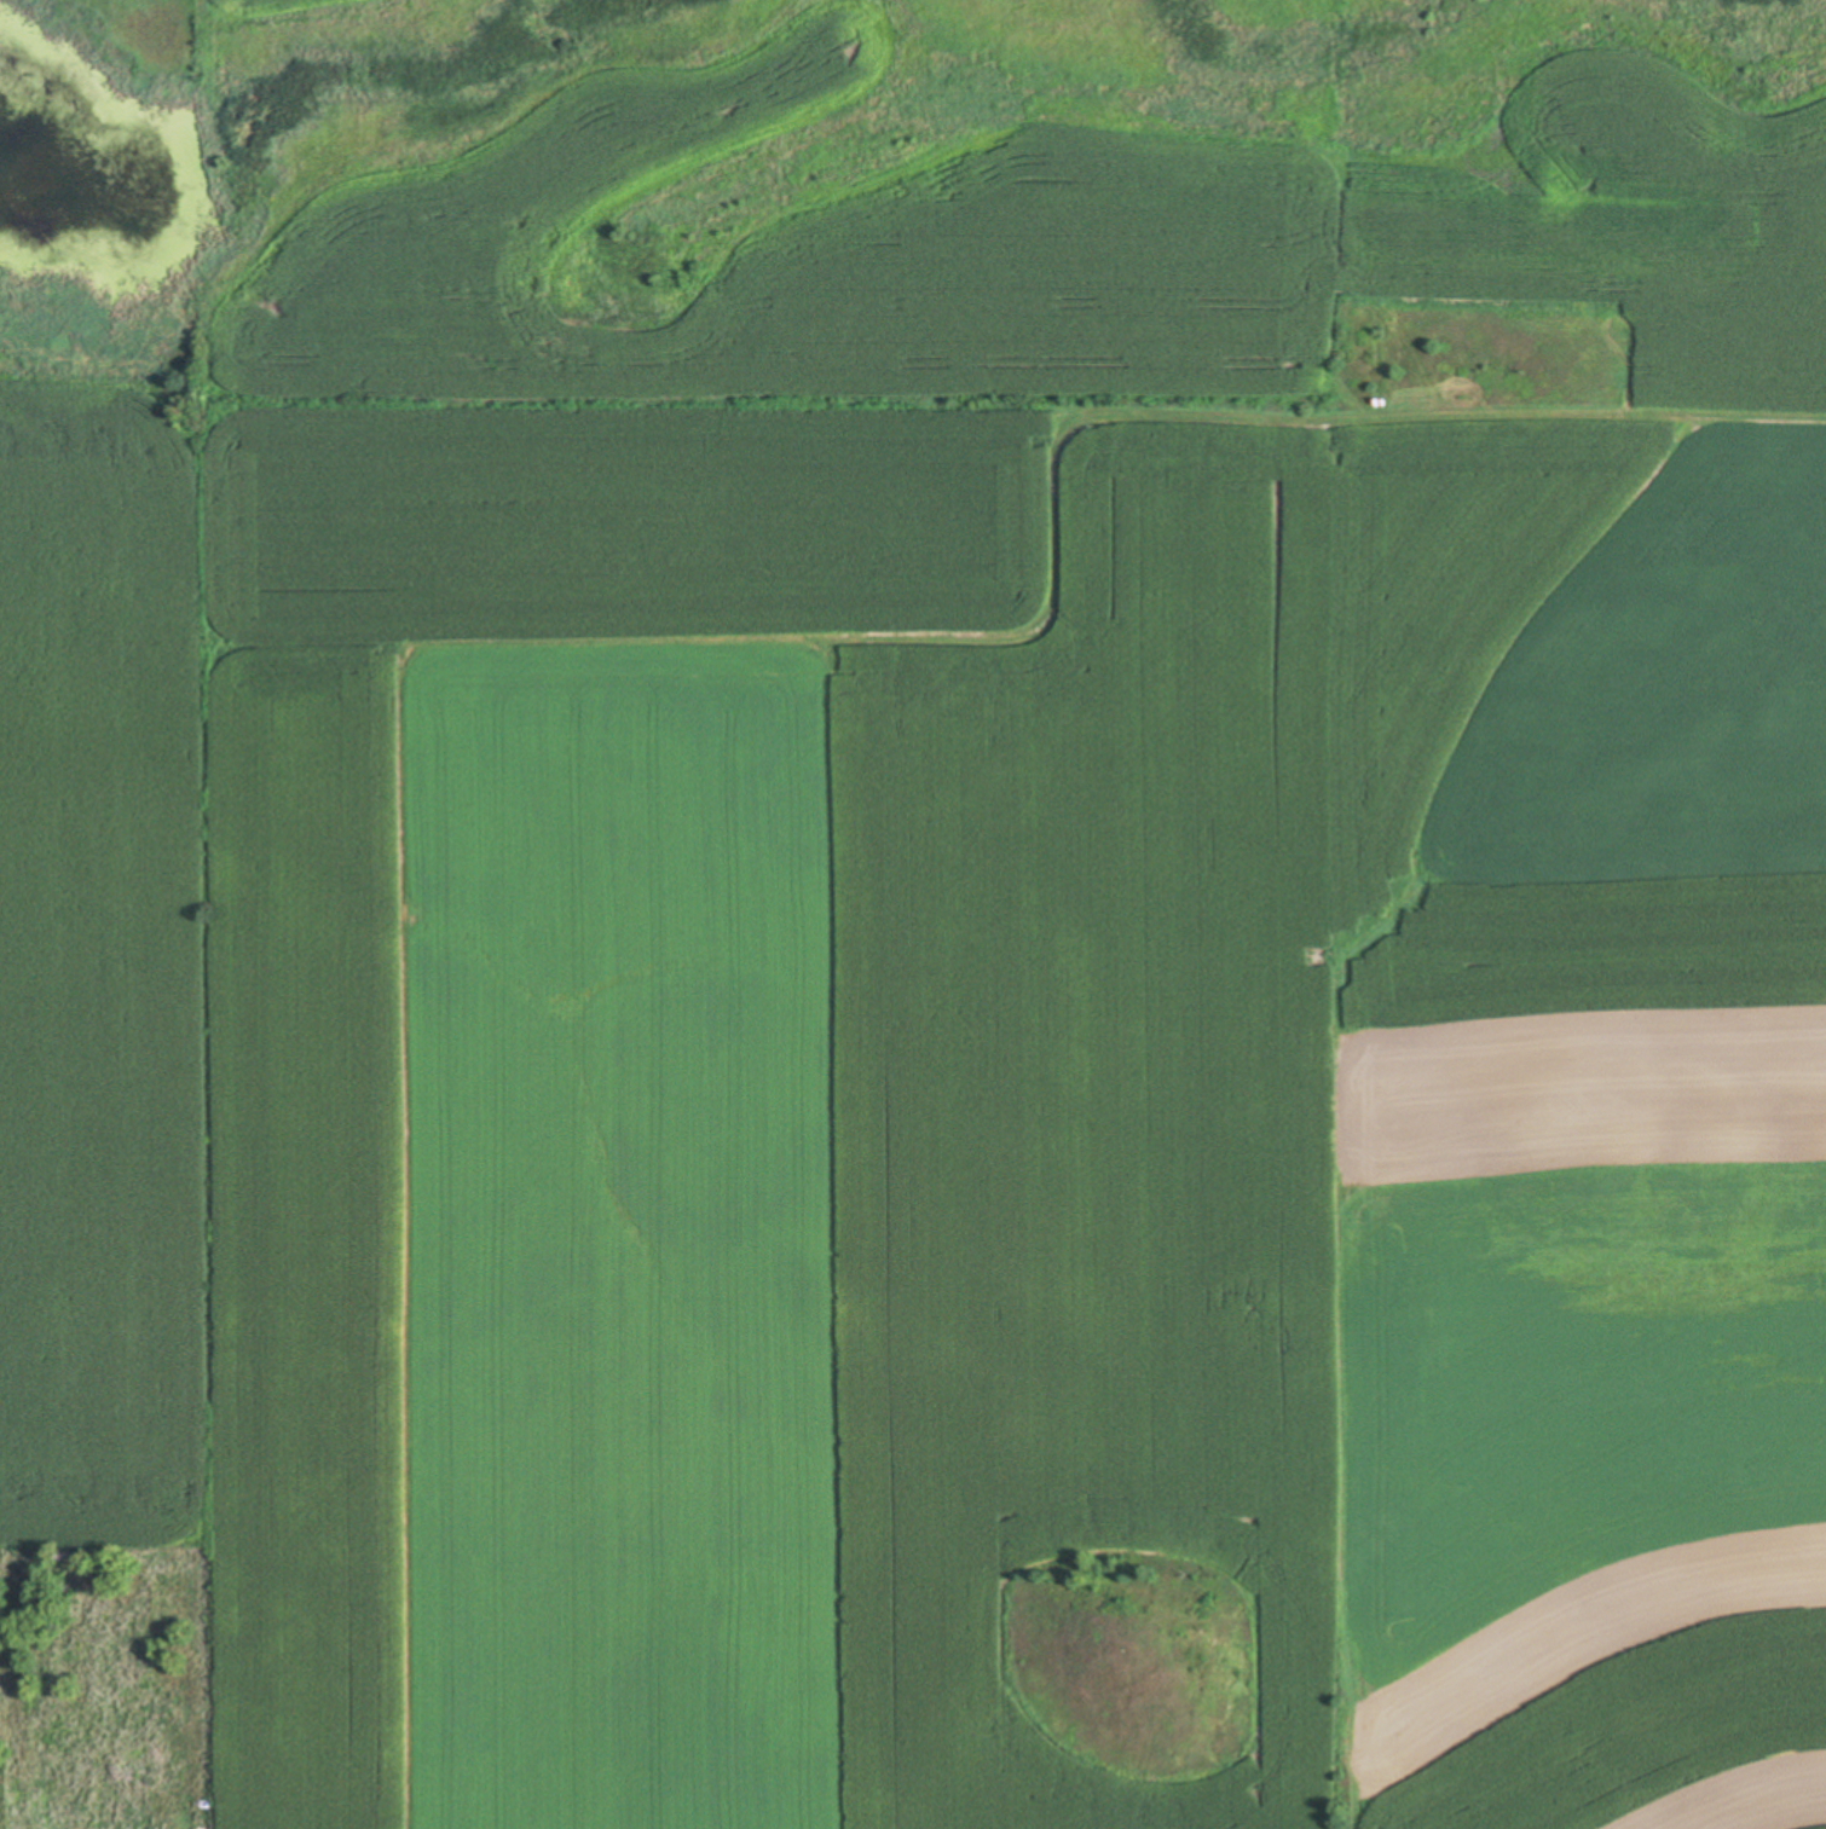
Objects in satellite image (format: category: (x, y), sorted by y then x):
crop: (288, 12)
crop: (950, 976)

